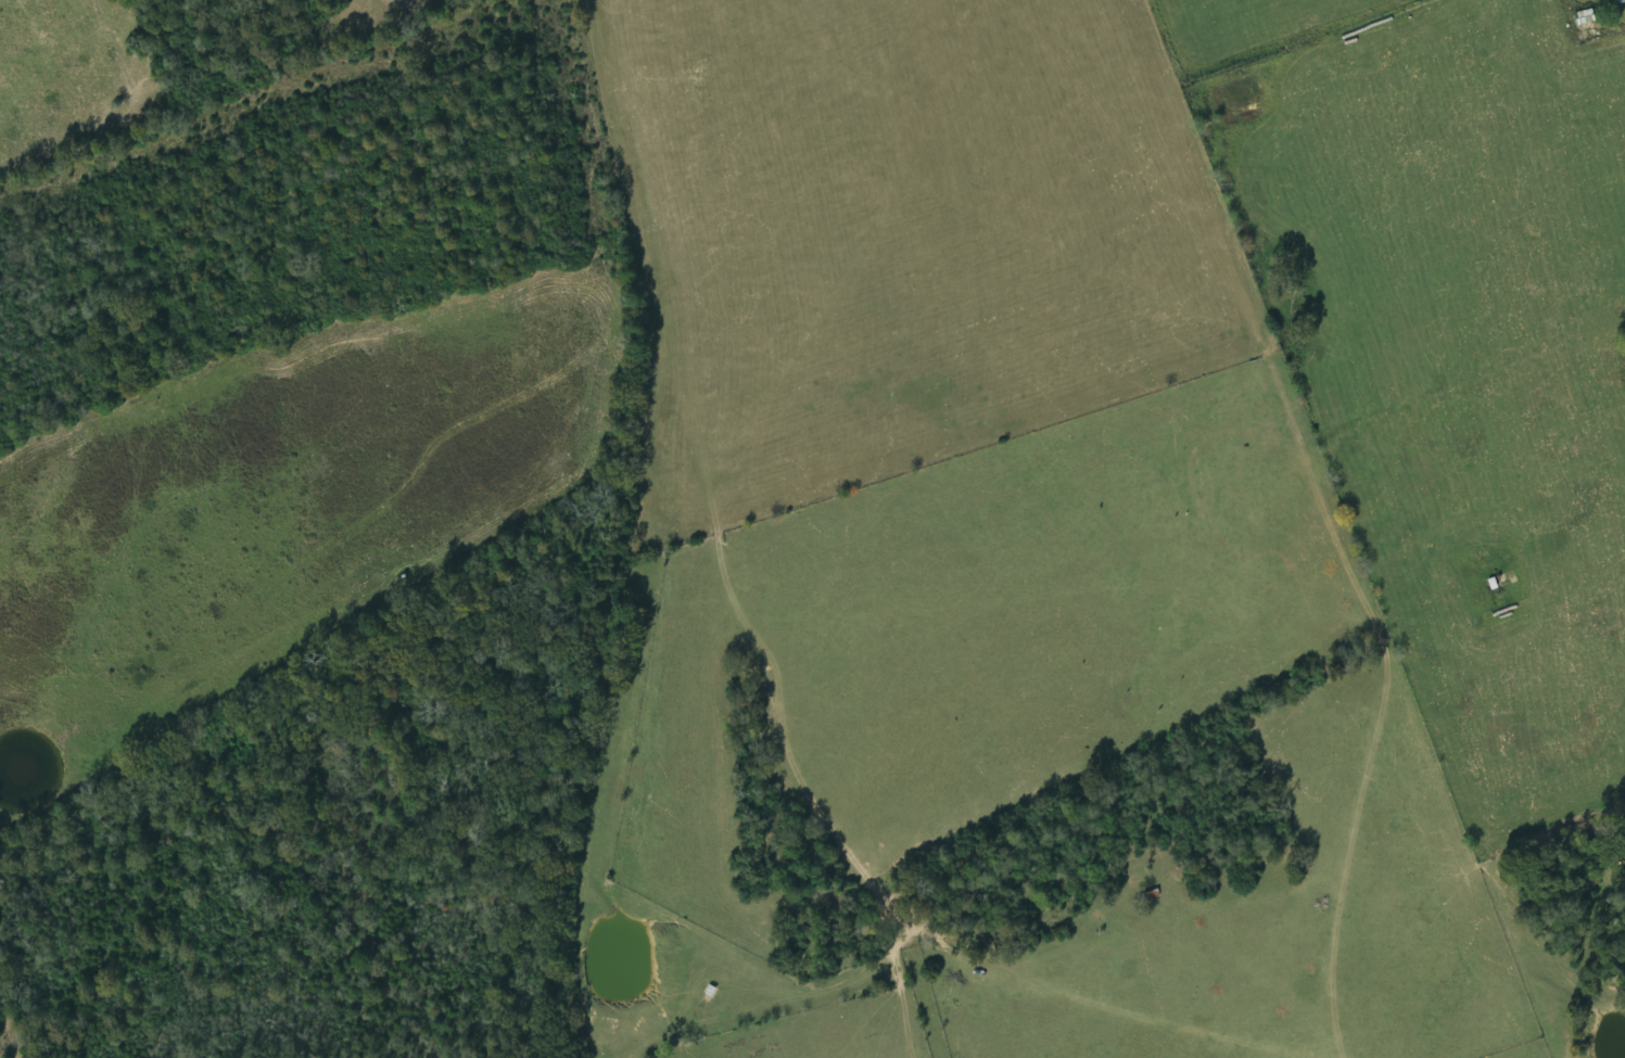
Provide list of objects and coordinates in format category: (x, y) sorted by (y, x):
building: (1621, 1)

